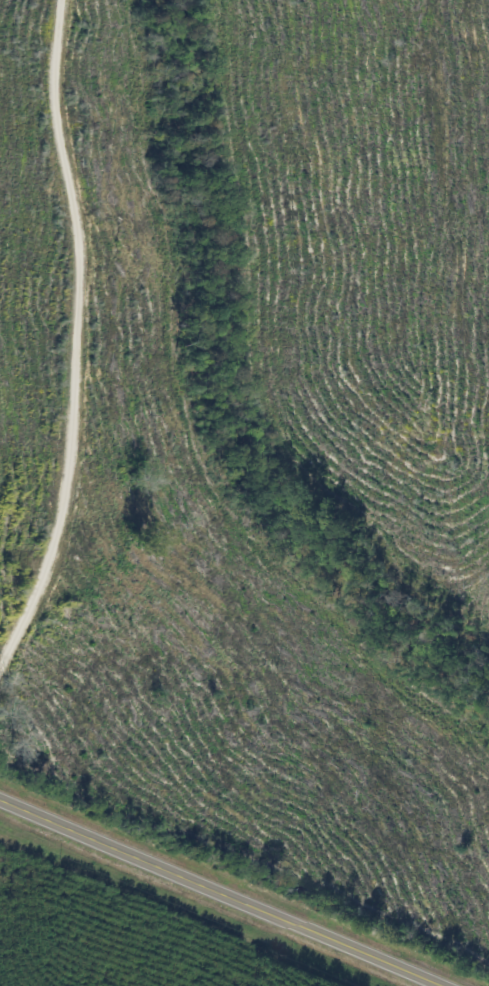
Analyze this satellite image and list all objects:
road: (218, 893)

